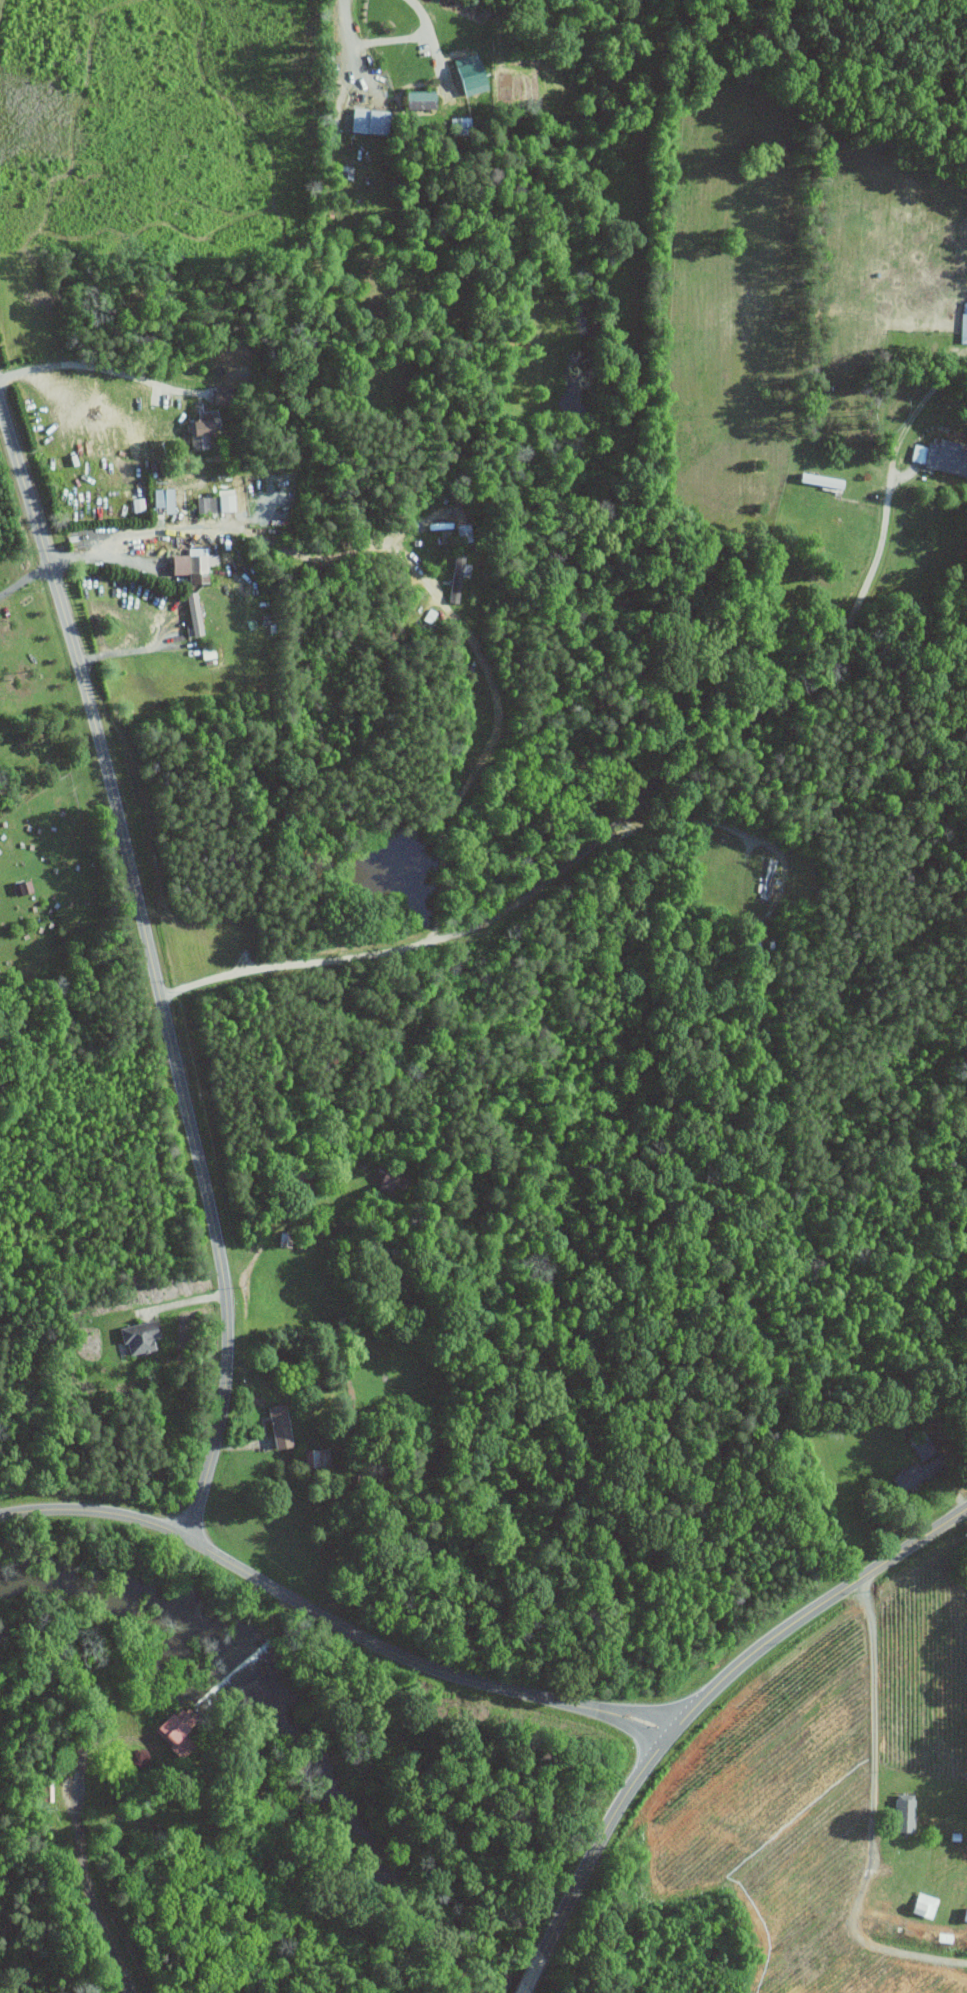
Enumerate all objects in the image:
road: (387, 40)
building: (465, 76)
building: (417, 99)
building: (365, 120)
building: (962, 322)
road: (102, 367)
building: (199, 431)
building: (941, 455)
building: (159, 499)
building: (215, 501)
building: (136, 504)
road: (264, 538)
building: (190, 564)
road: (24, 576)
building: (456, 576)
building: (192, 612)
road: (130, 650)
road: (838, 659)
road: (478, 773)
road: (679, 817)
road: (153, 963)
building: (392, 1178)
road: (182, 1302)
building: (136, 1337)
building: (277, 1425)
building: (923, 1448)
building: (318, 1457)
building: (908, 1475)
road: (330, 1618)
road: (706, 1693)
building: (169, 1734)
building: (42, 1790)
road: (878, 1813)
building: (902, 1814)
road: (84, 1872)
road: (530, 1978)

